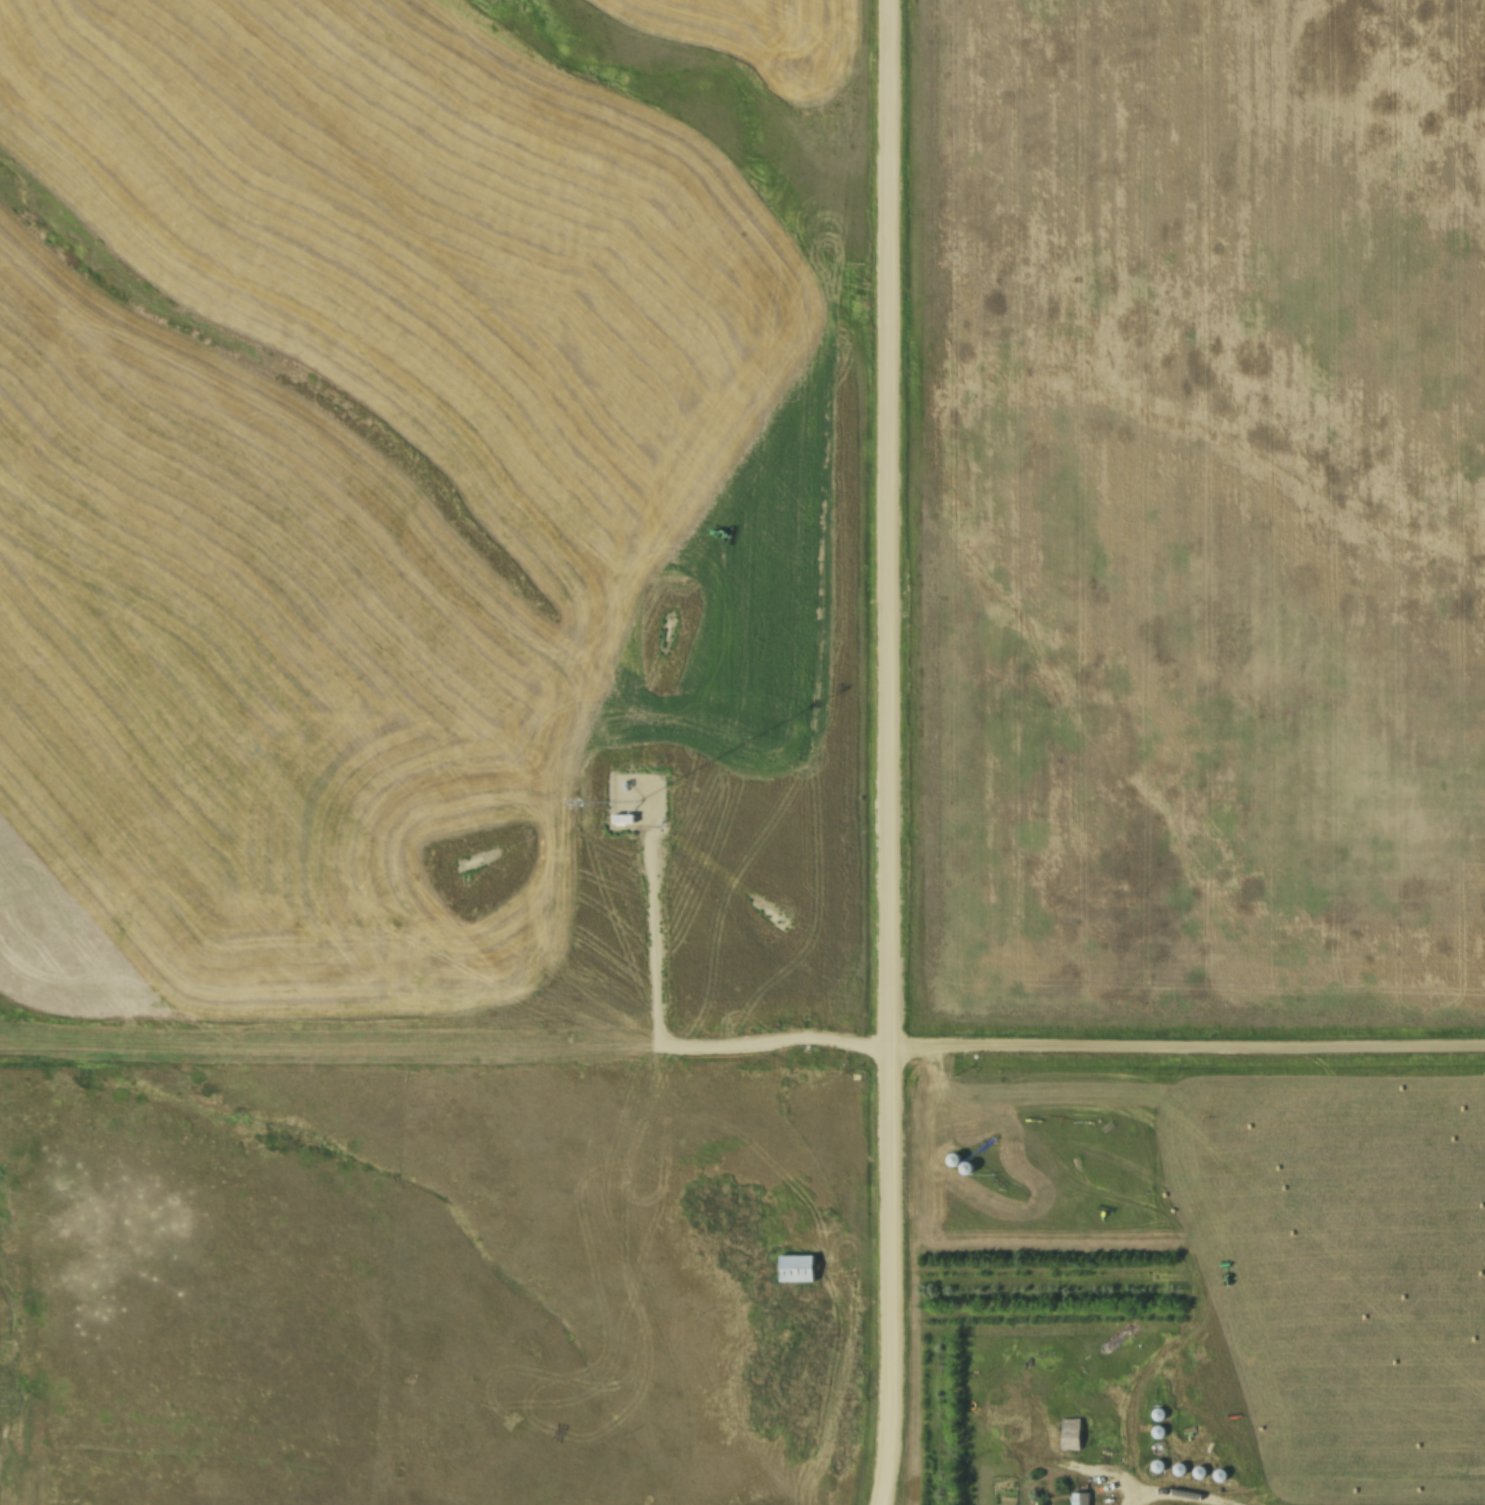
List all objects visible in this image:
road: (892, 752)
road: (742, 1061)
building: (956, 1159)
building: (970, 1167)
building: (799, 1268)
road: (843, 1391)
building: (1162, 1413)
building: (1162, 1431)
building: (1075, 1433)
building: (1161, 1465)
building: (1183, 1469)
building: (1203, 1471)
building: (1224, 1474)
building: (1084, 1498)
road: (1133, 1502)

